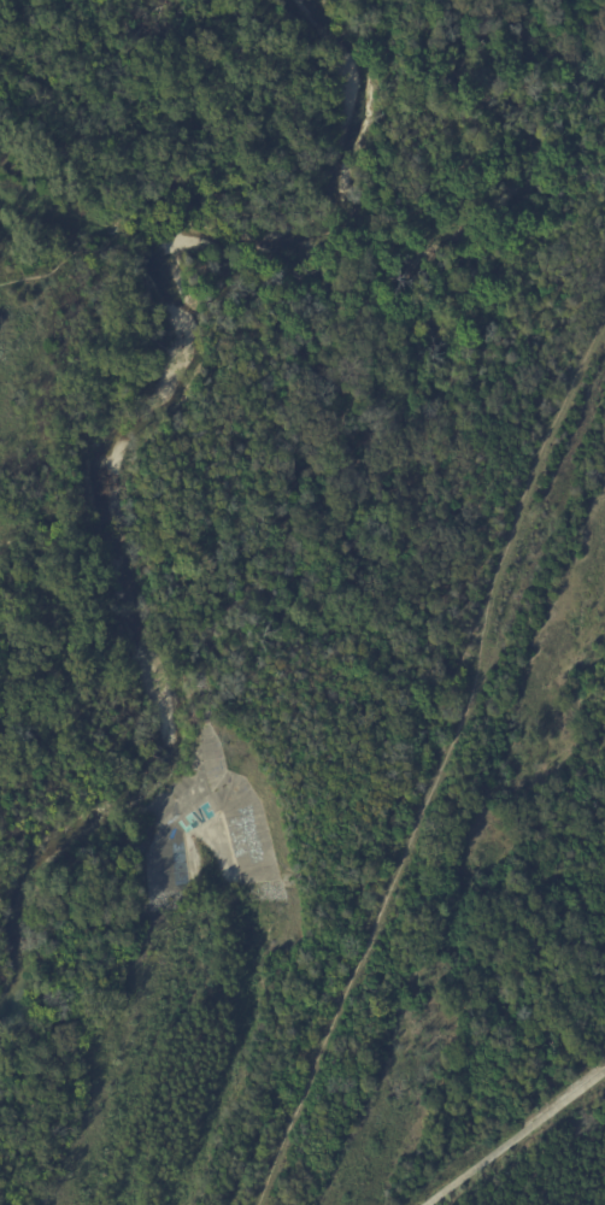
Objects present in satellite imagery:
road: (516, 1140)

